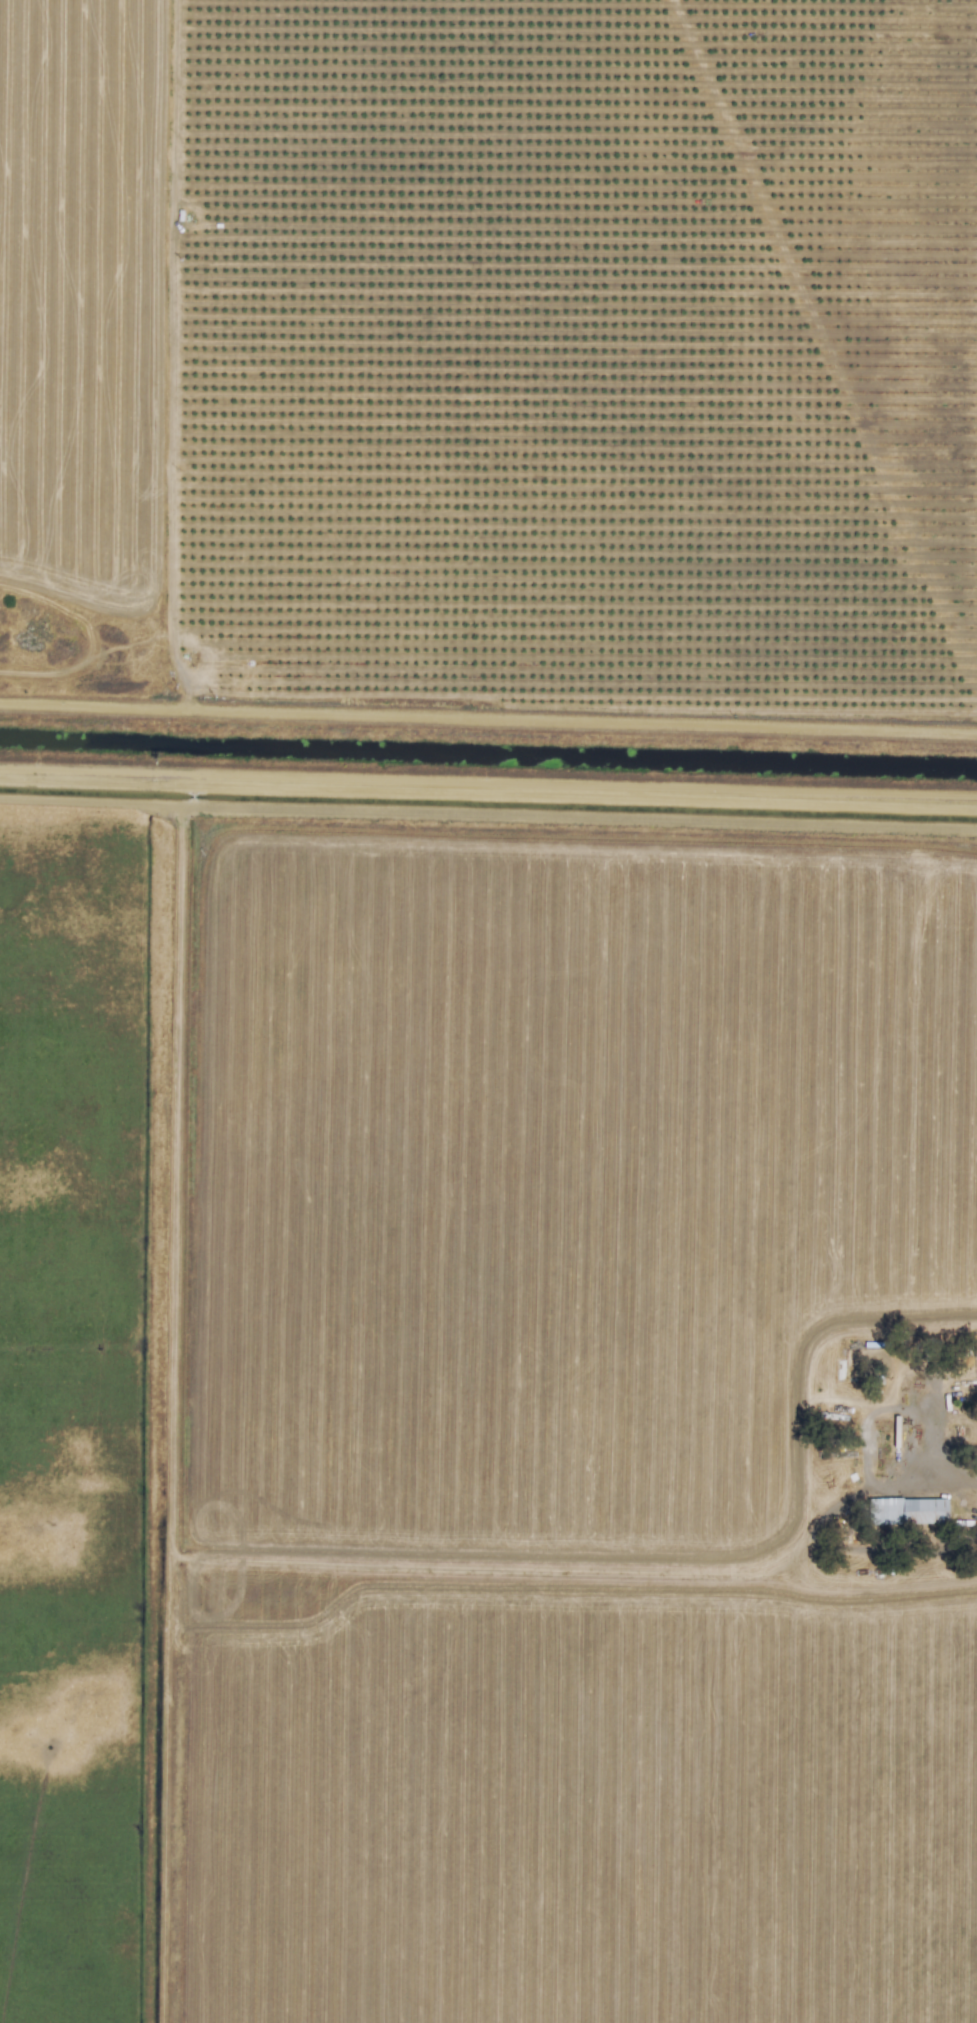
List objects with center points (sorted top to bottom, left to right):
road: (488, 721)
road: (488, 794)
road: (897, 1409)
road: (832, 1523)

